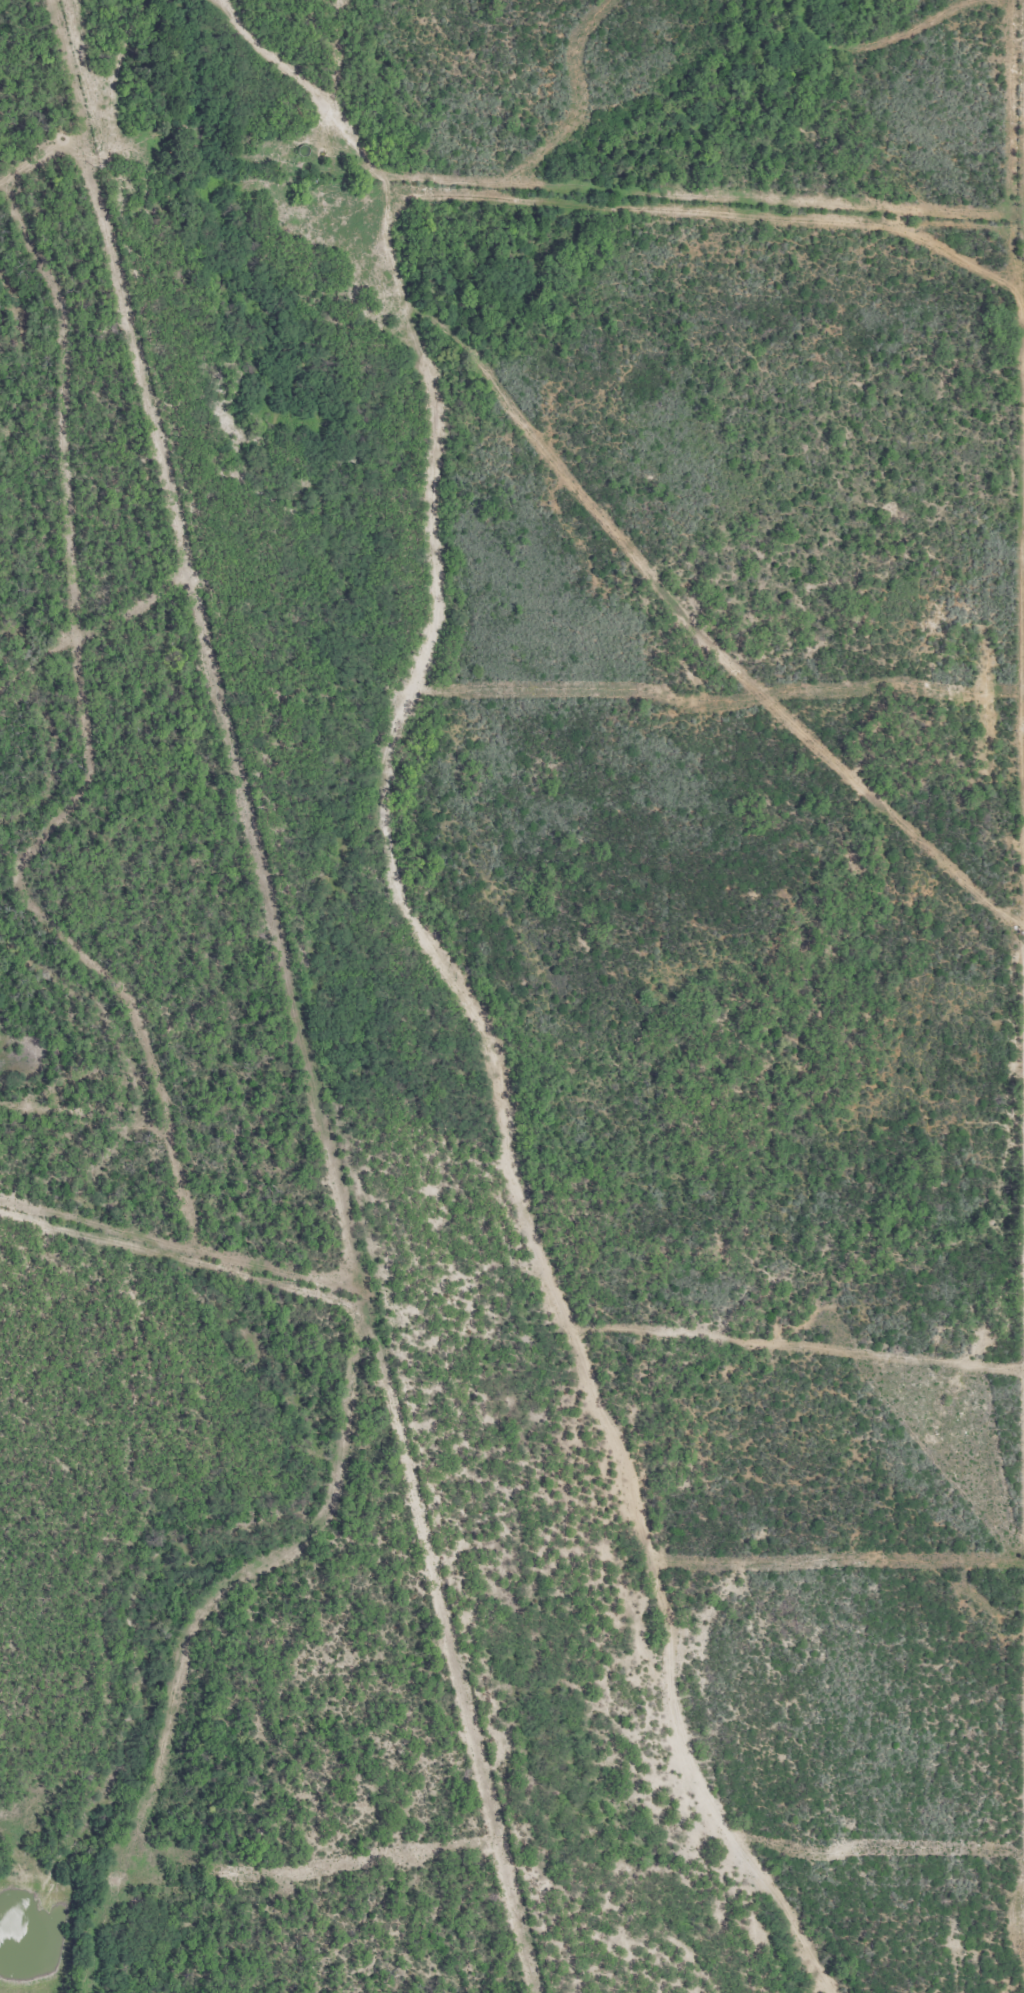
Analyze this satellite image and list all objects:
road: (1019, 107)
road: (85, 642)
road: (389, 823)
road: (1021, 1908)

